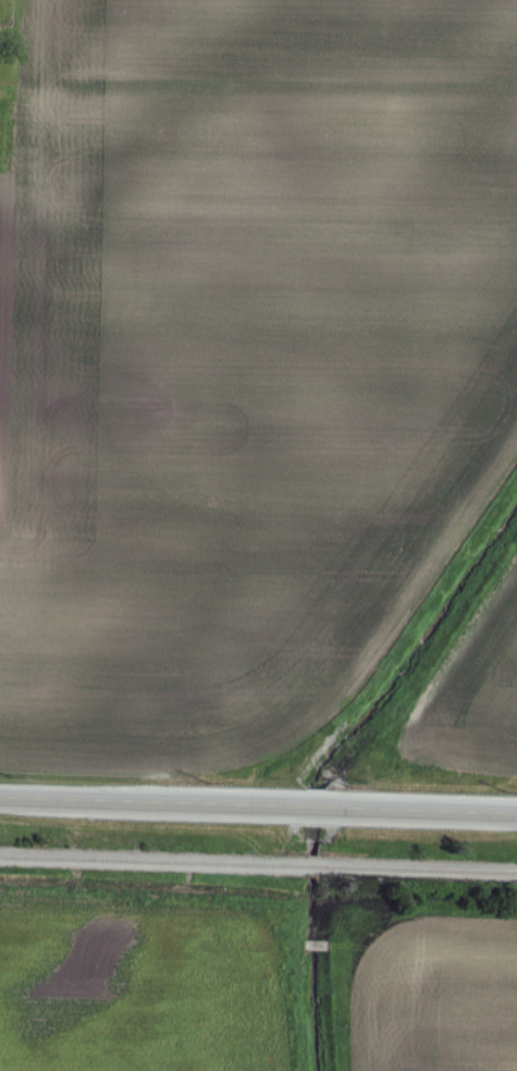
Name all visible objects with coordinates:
road: (258, 805)
railway: (258, 870)

